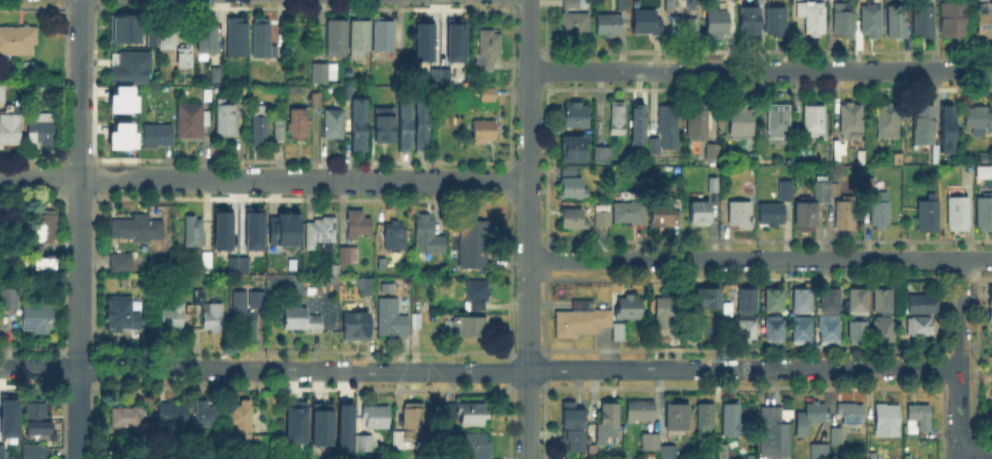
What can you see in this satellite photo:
building: (669, 6)
building: (810, 19)
building: (574, 21)
building: (611, 21)
building: (842, 21)
building: (951, 21)
building: (773, 23)
building: (869, 23)
building: (922, 23)
building: (984, 24)
building: (644, 25)
building: (682, 26)
building: (715, 26)
building: (747, 26)
building: (895, 26)
building: (124, 27)
building: (204, 35)
building: (149, 36)
building: (170, 37)
building: (422, 38)
building: (238, 39)
building: (387, 39)
building: (453, 39)
building: (339, 40)
building: (362, 40)
building: (264, 41)
building: (18, 43)
building: (490, 51)
building: (180, 61)
building: (129, 65)
road: (760, 69)
building: (213, 73)
building: (326, 74)
building: (432, 75)
building: (443, 75)
building: (245, 95)
building: (3, 96)
building: (487, 96)
building: (209, 97)
building: (317, 102)
building: (575, 114)
building: (121, 116)
building: (615, 120)
building: (978, 120)
building: (667, 121)
building: (777, 122)
building: (886, 122)
building: (192, 123)
building: (227, 123)
building: (849, 123)
building: (358, 124)
building: (382, 124)
building: (423, 124)
building: (637, 124)
building: (737, 124)
building: (812, 124)
building: (336, 125)
building: (405, 125)
building: (696, 125)
building: (302, 126)
building: (944, 127)
building: (11, 128)
building: (262, 128)
building: (921, 129)
building: (280, 131)
building: (486, 132)
building: (43, 136)
building: (159, 137)
building: (654, 144)
building: (570, 148)
building: (713, 150)
building: (599, 153)
building: (836, 159)
building: (752, 170)
building: (566, 172)
road: (264, 178)
building: (712, 187)
building: (833, 191)
building: (569, 192)
building: (786, 196)
building: (810, 212)
building: (878, 214)
building: (956, 214)
building: (628, 215)
building: (739, 215)
building: (696, 216)
building: (770, 216)
building: (984, 216)
building: (663, 217)
building: (925, 217)
building: (600, 218)
building: (842, 218)
building: (570, 221)
building: (221, 227)
building: (252, 227)
building: (361, 227)
building: (3, 228)
building: (49, 228)
road: (79, 229)
road: (528, 229)
building: (133, 230)
building: (287, 230)
building: (196, 235)
building: (322, 236)
building: (397, 238)
building: (429, 239)
building: (477, 246)
building: (297, 254)
building: (349, 257)
road: (759, 258)
building: (208, 261)
building: (379, 261)
building: (41, 262)
building: (123, 264)
building: (231, 264)
building: (241, 264)
building: (334, 269)
building: (49, 270)
building: (364, 284)
building: (382, 286)
building: (480, 295)
building: (705, 296)
building: (254, 297)
building: (202, 299)
building: (989, 300)
building: (855, 301)
building: (11, 302)
building: (773, 303)
building: (827, 303)
building: (745, 304)
building: (799, 304)
building: (880, 304)
building: (919, 307)
building: (625, 311)
road: (960, 313)
building: (240, 316)
building: (388, 316)
building: (123, 317)
building: (665, 319)
building: (175, 320)
building: (215, 320)
building: (989, 320)
building: (40, 321)
building: (303, 321)
building: (579, 322)
building: (353, 324)
building: (471, 325)
building: (917, 328)
building: (745, 330)
building: (800, 331)
building: (772, 332)
building: (827, 332)
building: (855, 333)
building: (881, 333)
building: (616, 336)
road: (480, 371)
road: (960, 408)
building: (643, 413)
building: (8, 414)
building: (373, 415)
building: (887, 415)
building: (174, 416)
building: (208, 416)
building: (474, 416)
building: (39, 417)
building: (851, 418)
building: (708, 419)
building: (922, 419)
building: (244, 420)
building: (812, 420)
building: (128, 421)
building: (293, 421)
building: (681, 421)
building: (320, 423)
building: (734, 424)
building: (409, 426)
building: (609, 426)
building: (343, 427)
building: (571, 428)
building: (777, 435)
building: (837, 439)
building: (362, 441)
building: (266, 443)
building: (651, 444)
building: (476, 447)
building: (2, 449)
road: (976, 449)
building: (668, 452)
building: (820, 452)
building: (37, 453)
road: (960, 454)

